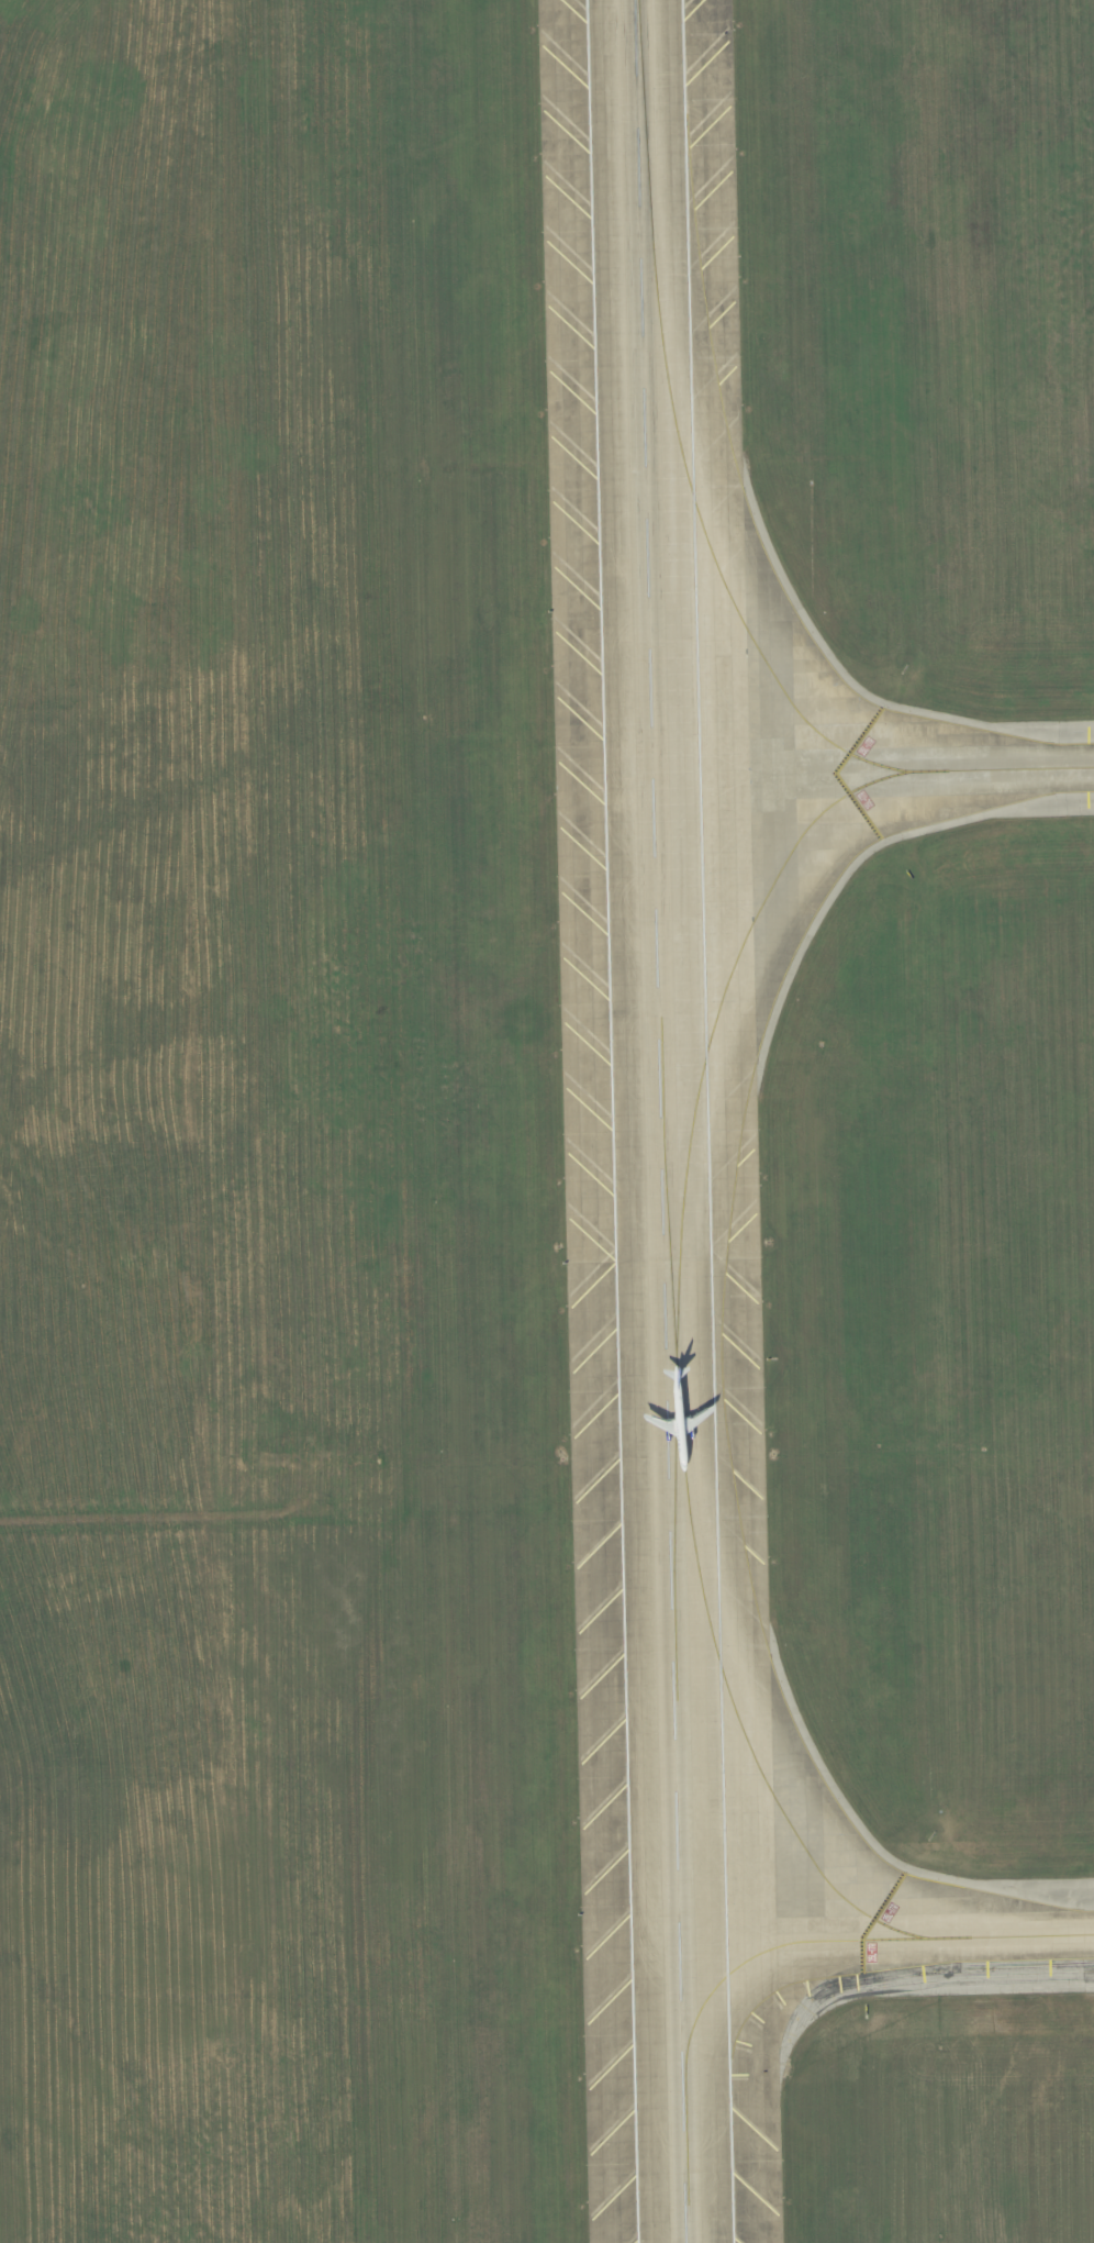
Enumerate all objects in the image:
airport taxiway: (701, 522)
airport: (547, 1121)
airport runway: (659, 1121)
airport taxiway: (682, 1208)
airport taxiway: (690, 1519)
airport taxiway: (785, 1942)

